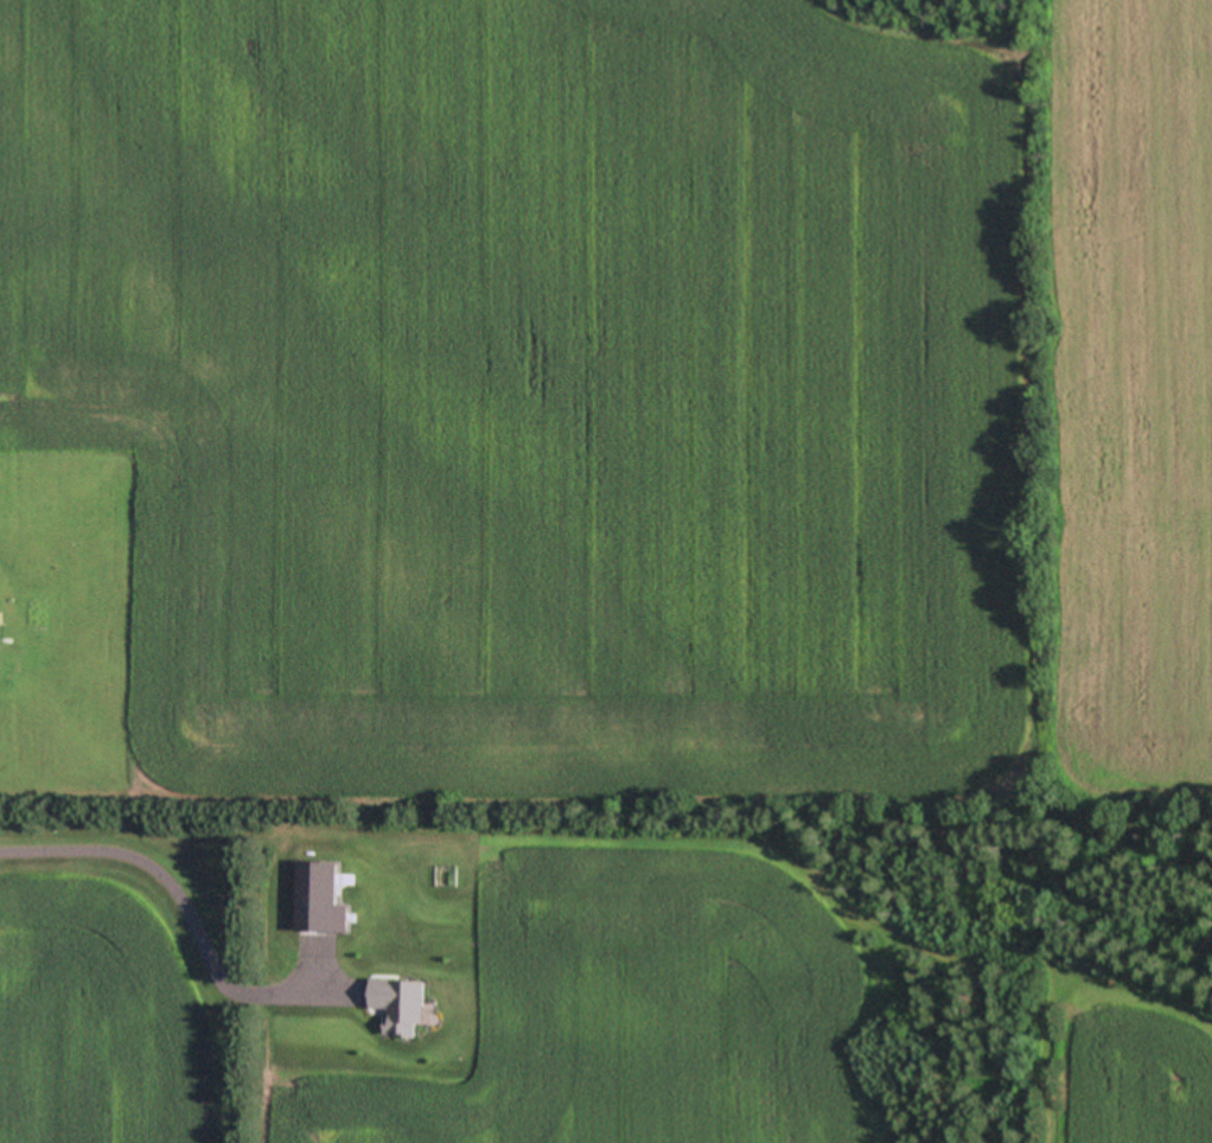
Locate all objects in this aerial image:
road: (181, 900)

